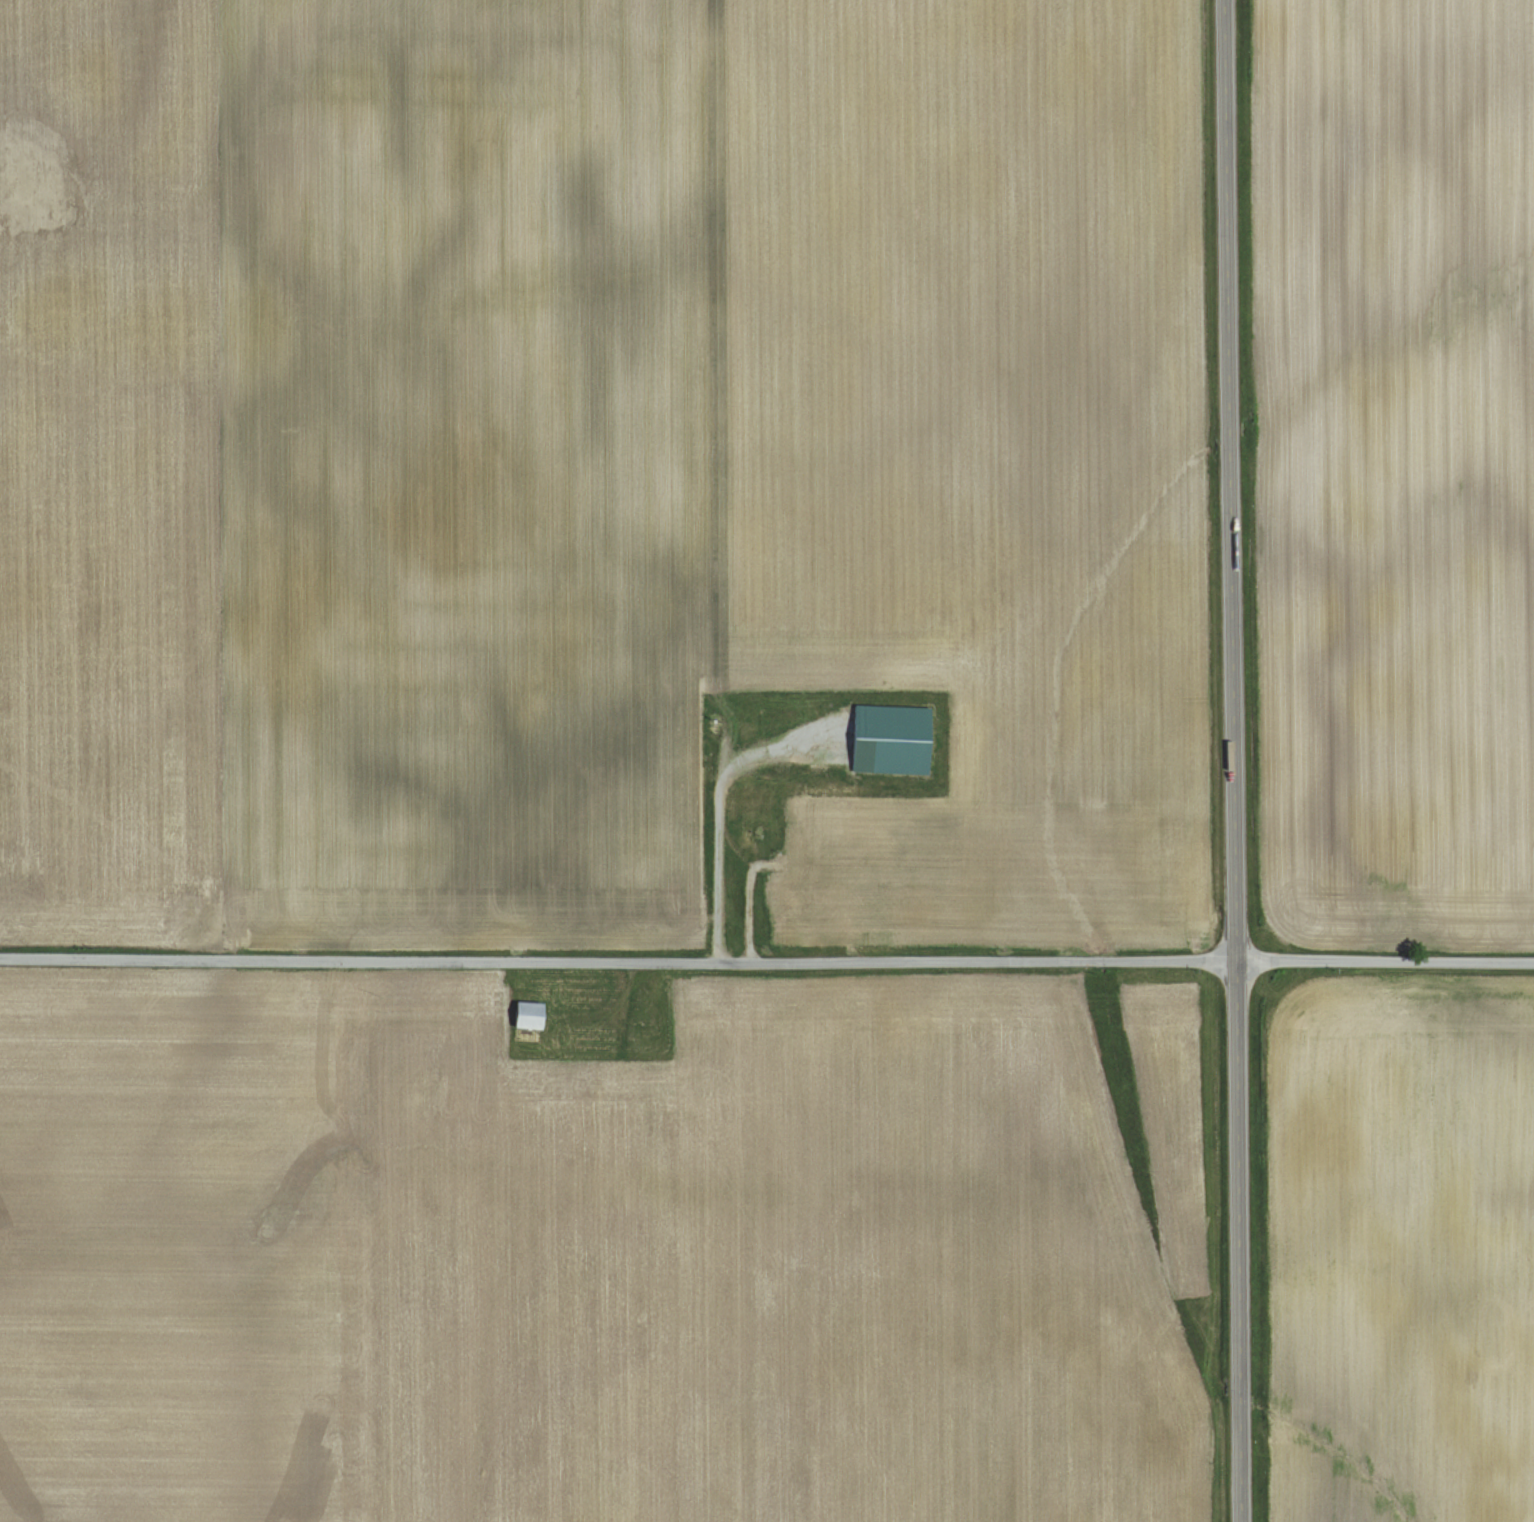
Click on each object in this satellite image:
building: (894, 740)
road: (1236, 760)
road: (713, 820)
road: (1386, 959)
road: (619, 962)
road: (623, 1012)
building: (531, 1018)

